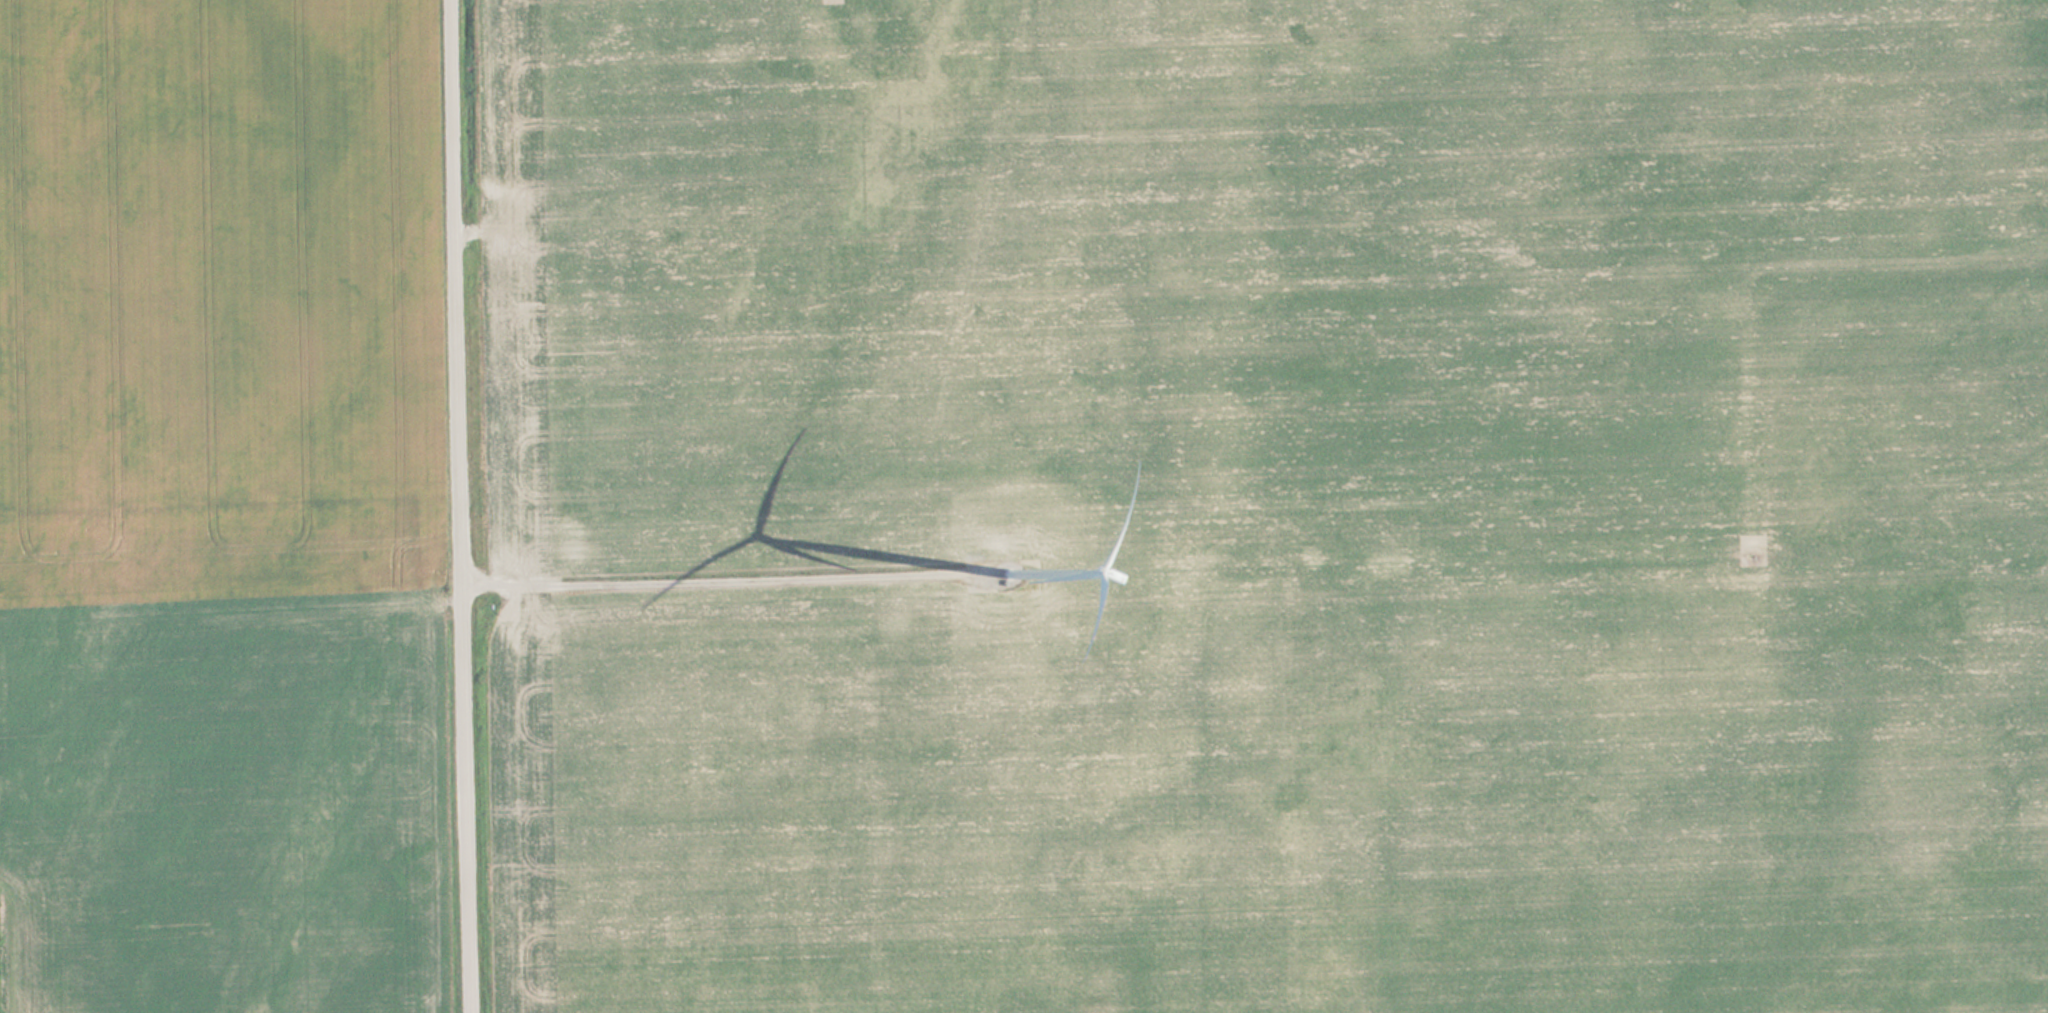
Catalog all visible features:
road: (461, 506)
road: (712, 574)
wind turbine: (1021, 589)

